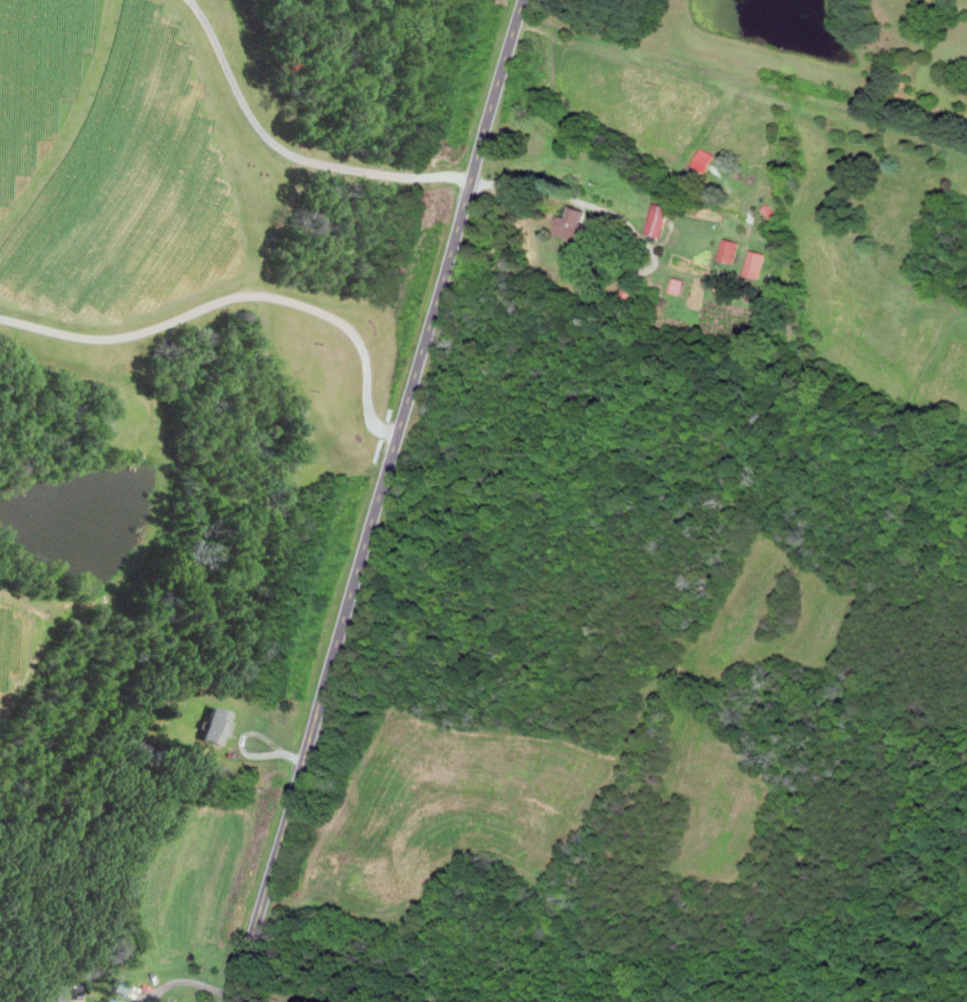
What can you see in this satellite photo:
building: (705, 159)
building: (657, 220)
building: (575, 223)
building: (730, 249)
building: (756, 263)
building: (679, 285)
road: (241, 294)
road: (377, 500)
building: (216, 725)
building: (113, 999)

